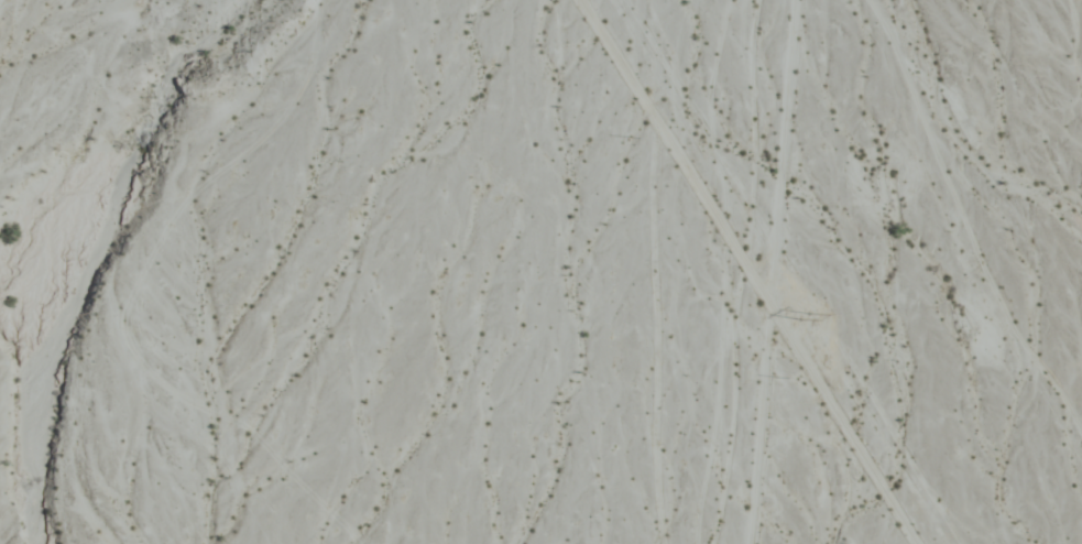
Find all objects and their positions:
road: (4, 7)
road: (743, 272)
road: (774, 272)
power tower: (804, 317)

